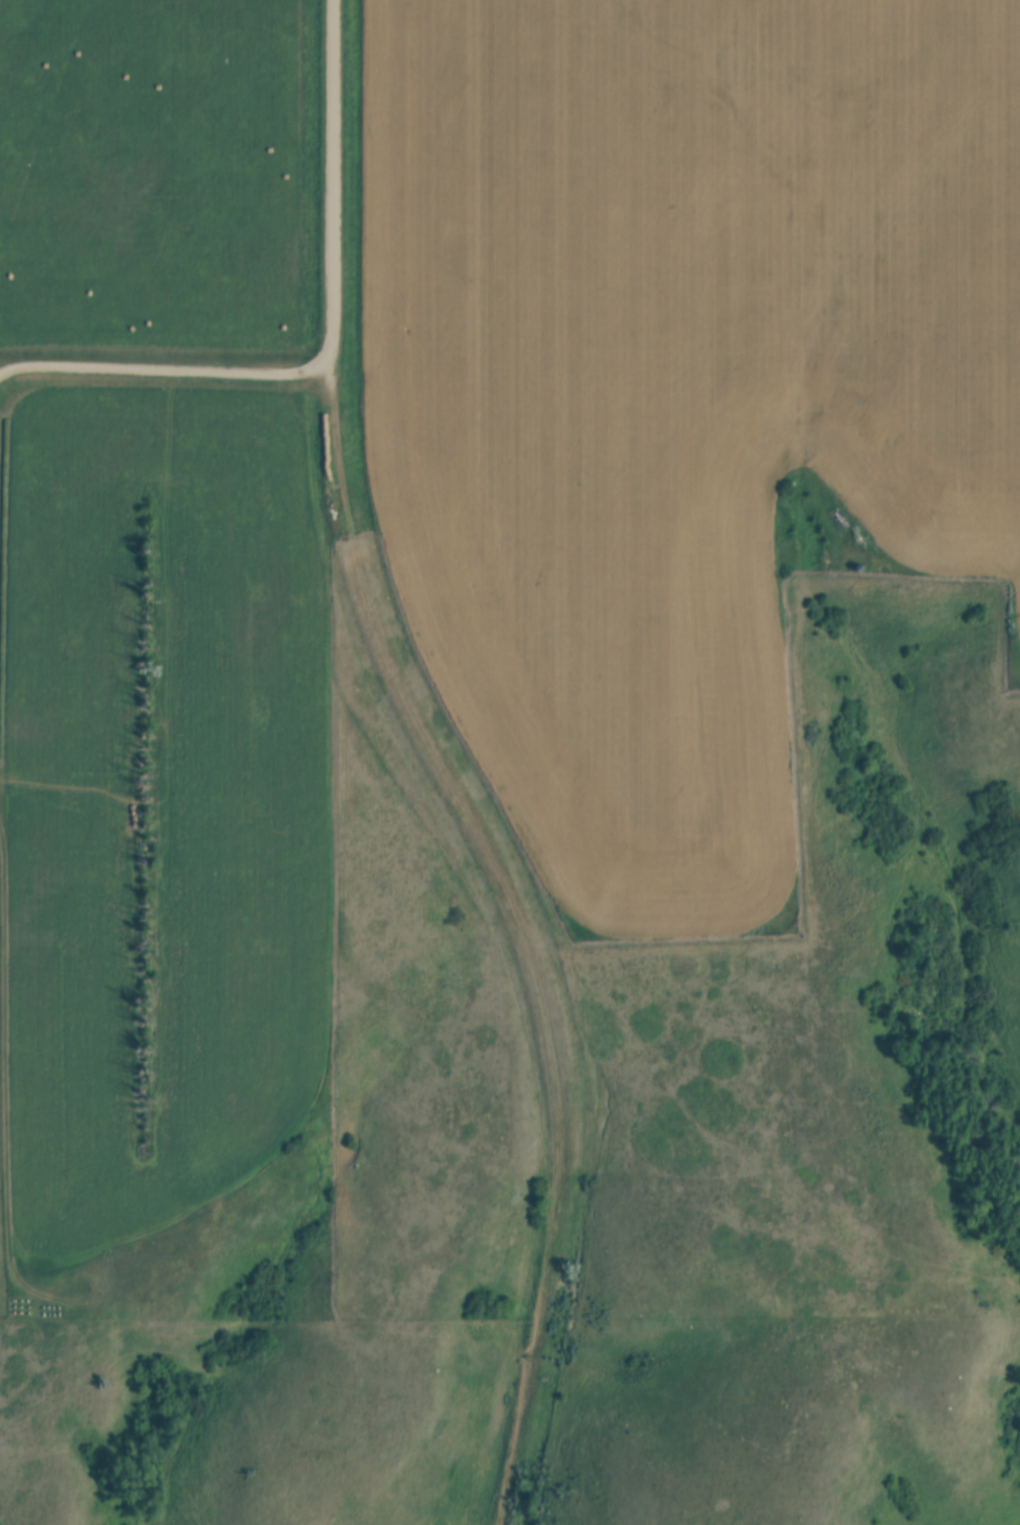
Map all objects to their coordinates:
road: (338, 182)
road: (162, 368)
road: (529, 927)

